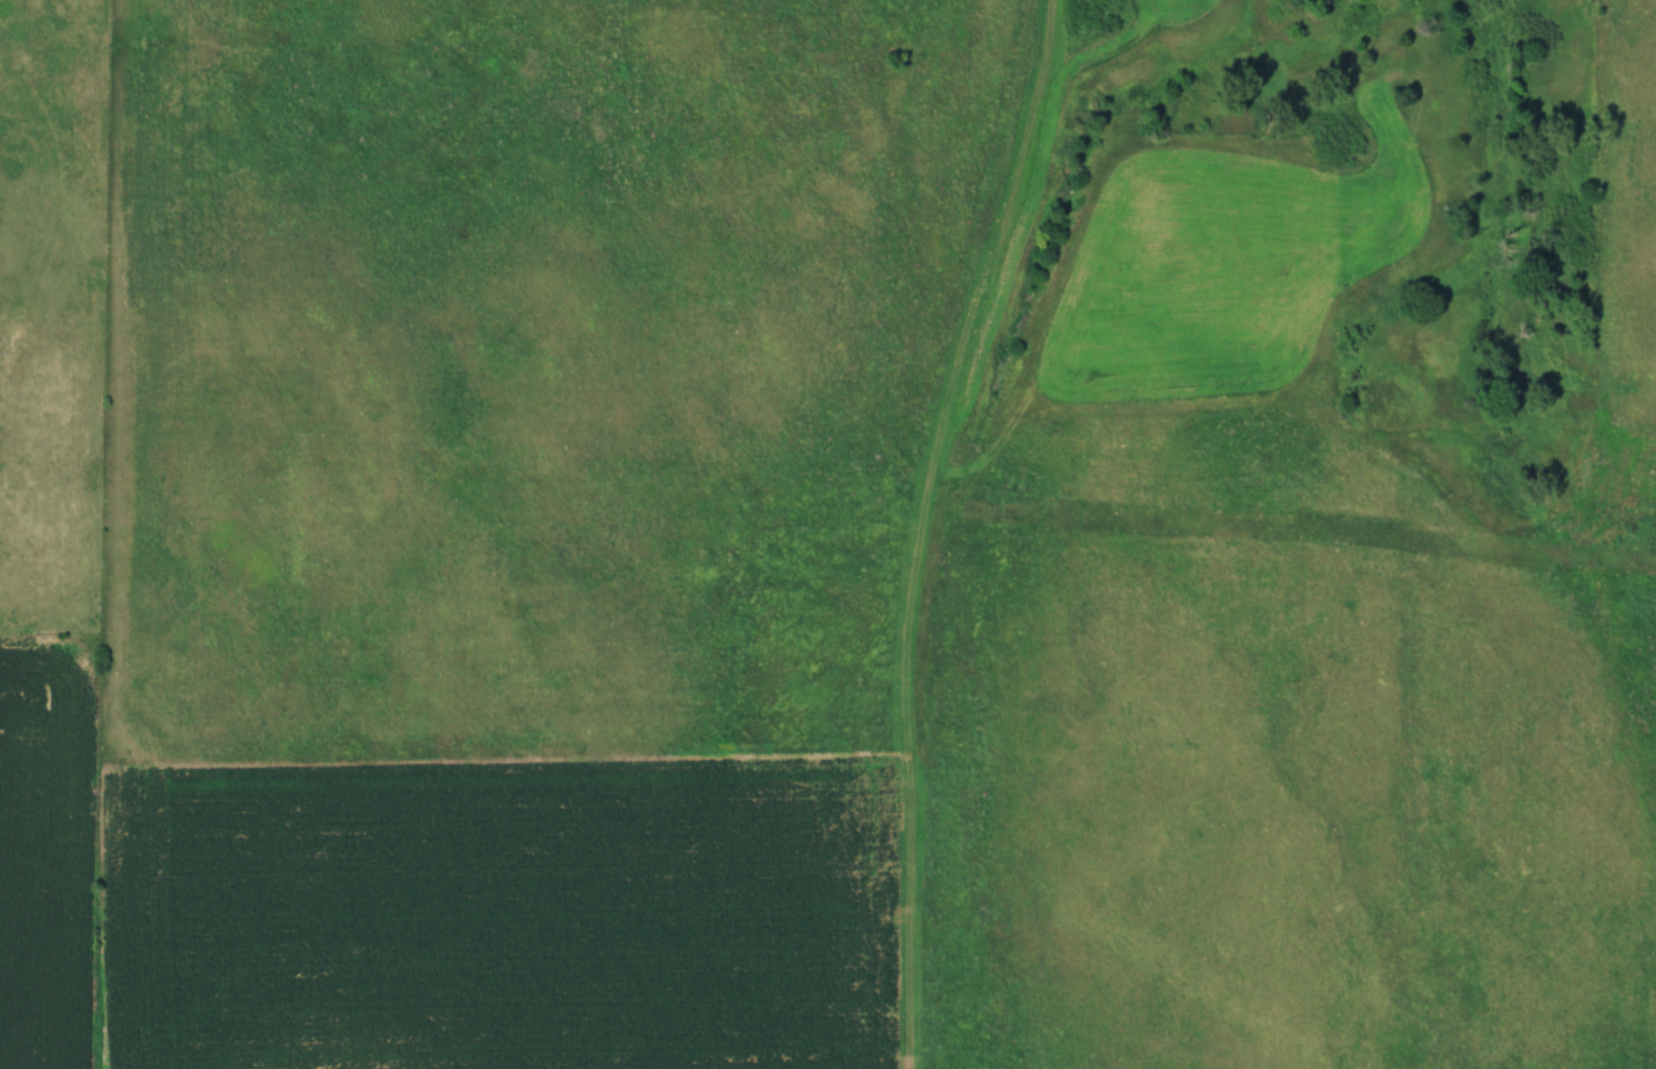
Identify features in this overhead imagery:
crop: (47, 854)
crop: (508, 916)

